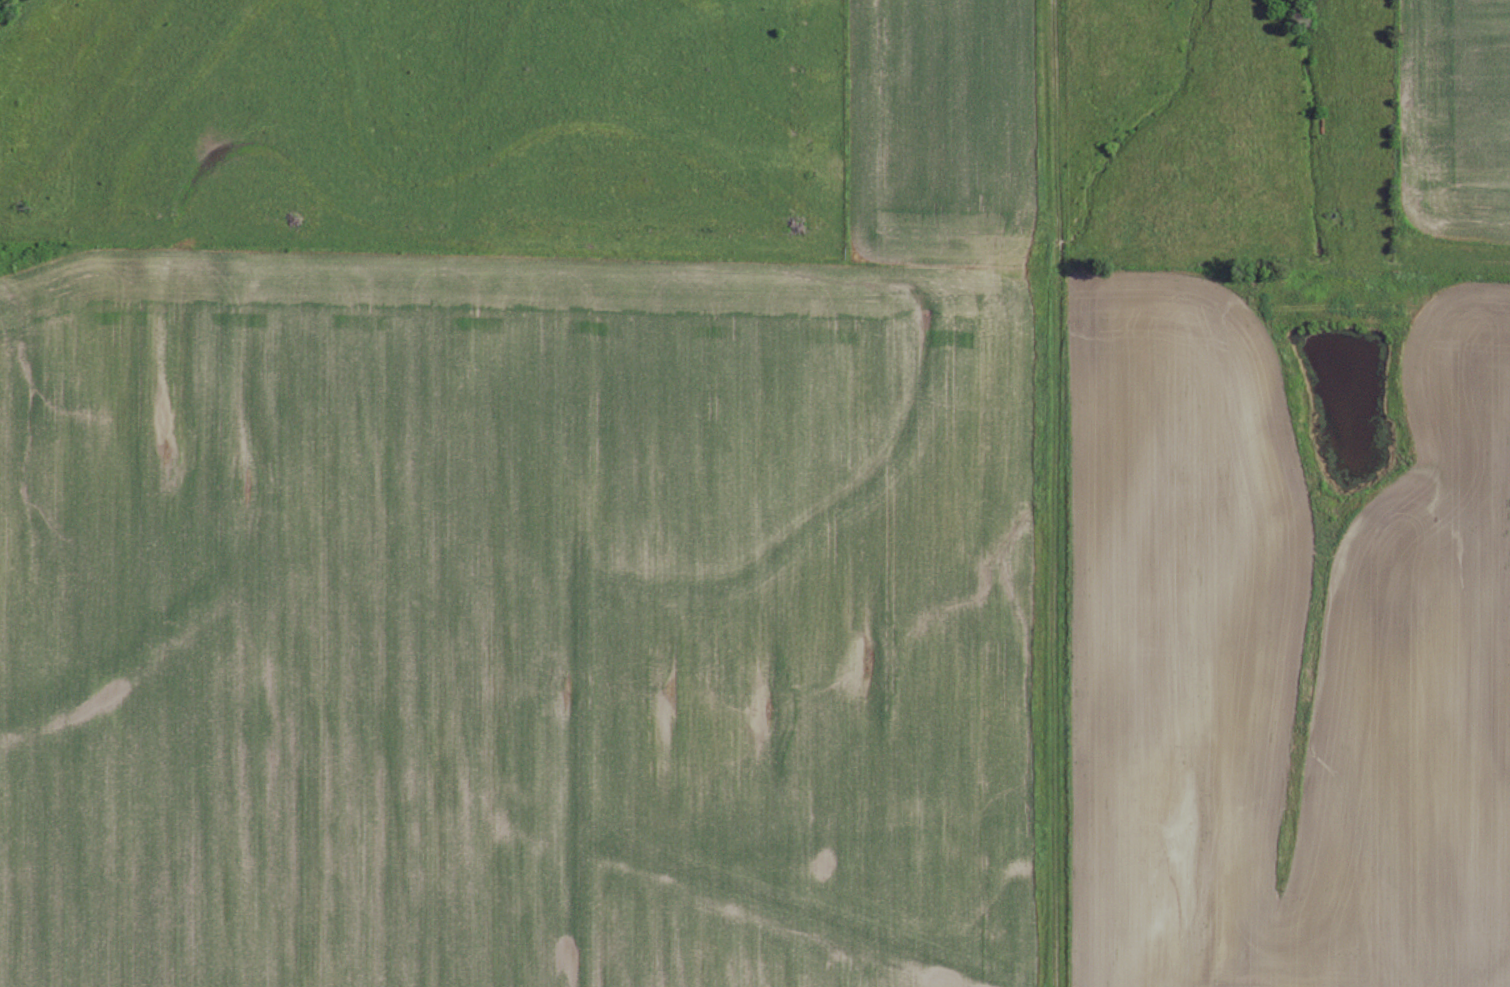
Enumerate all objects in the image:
road: (1054, 493)

